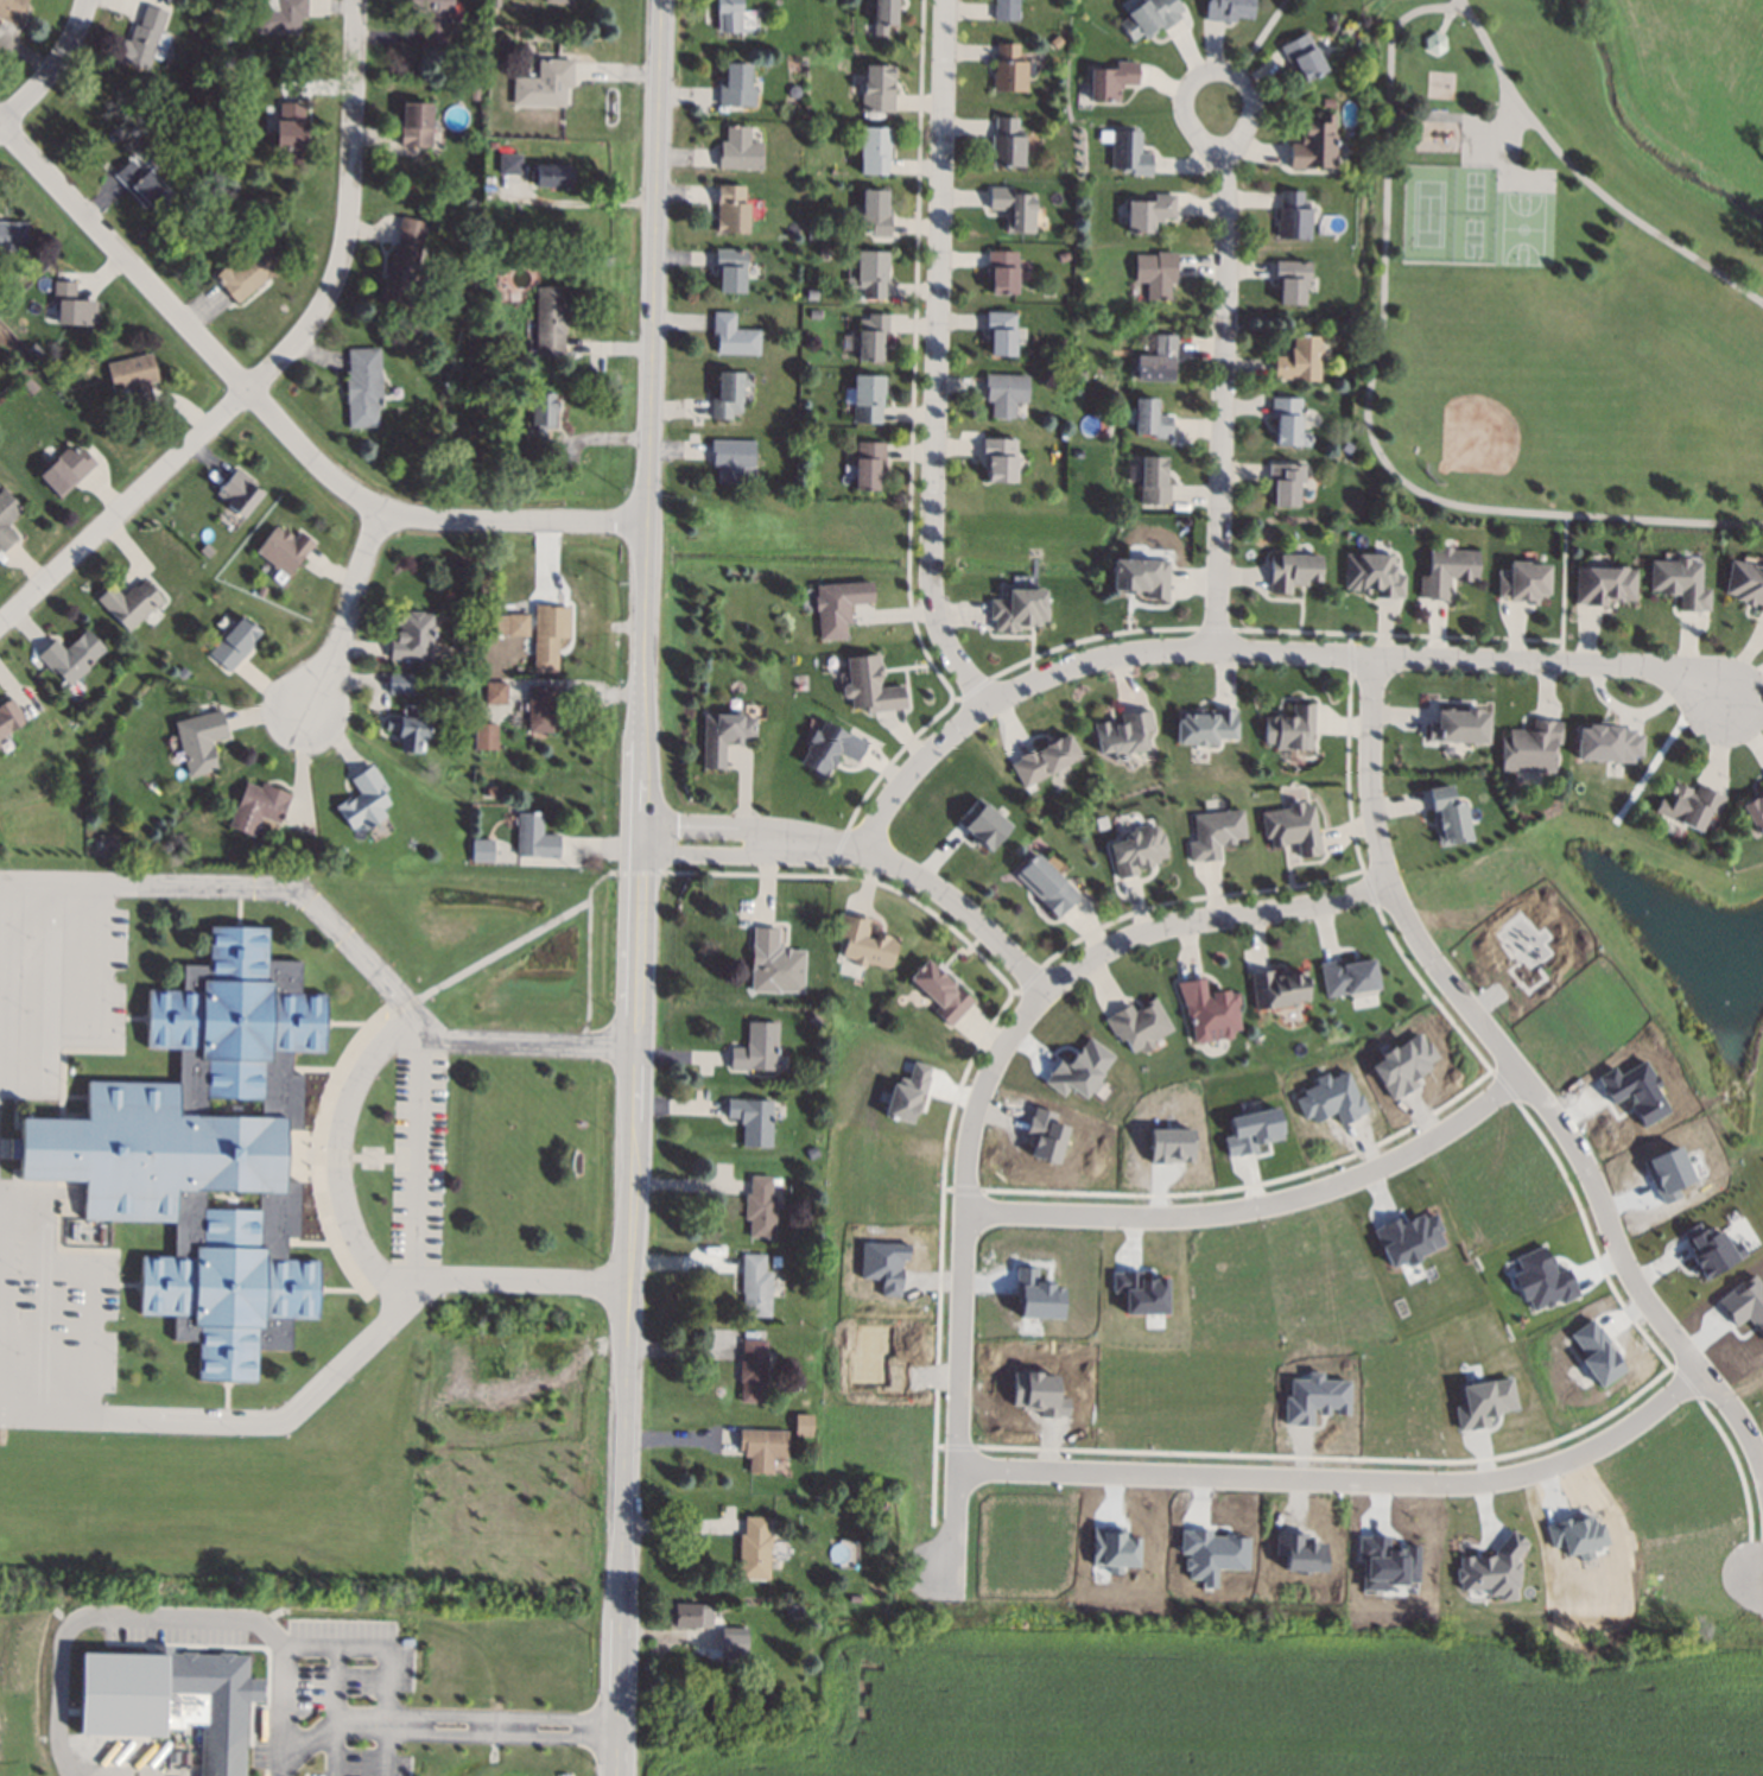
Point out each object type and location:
building: (558, 1)
road: (1461, 5)
building: (1007, 9)
building: (1228, 9)
building: (12, 11)
building: (728, 15)
building: (884, 15)
building: (281, 17)
building: (1149, 17)
building: (433, 21)
road: (1260, 37)
building: (145, 39)
building: (1057, 42)
building: (1433, 43)
building: (229, 45)
building: (1302, 57)
road: (52, 68)
building: (1010, 68)
road: (1215, 69)
building: (227, 75)
building: (1114, 80)
building: (545, 83)
building: (737, 85)
building: (879, 89)
building: (161, 91)
building: (475, 91)
building: (416, 123)
building: (134, 128)
building: (291, 132)
building: (1008, 142)
building: (493, 144)
building: (1314, 145)
building: (875, 148)
building: (740, 151)
building: (1128, 152)
building: (816, 161)
building: (510, 163)
building: (552, 176)
building: (145, 185)
road: (1384, 189)
building: (1014, 209)
building: (443, 210)
building: (731, 210)
building: (260, 211)
building: (875, 213)
building: (1149, 213)
building: (1292, 215)
park: (1450, 215)
park: (1528, 230)
building: (13, 235)
building: (811, 235)
building: (251, 268)
building: (404, 269)
building: (730, 269)
building: (873, 272)
building: (1003, 272)
building: (1156, 274)
park: (1552, 280)
building: (1290, 281)
building: (812, 294)
building: (74, 305)
building: (816, 313)
building: (550, 321)
building: (1001, 332)
building: (734, 336)
building: (871, 336)
building: (36, 354)
road: (277, 359)
road: (934, 359)
building: (1300, 360)
building: (1159, 361)
building: (486, 363)
building: (135, 381)
building: (30, 386)
building: (364, 387)
building: (1006, 393)
park: (1515, 394)
building: (728, 395)
building: (868, 398)
road: (1220, 407)
building: (541, 417)
building: (1152, 419)
road: (275, 420)
building: (1288, 421)
building: (139, 427)
building: (1347, 448)
building: (731, 459)
building: (1001, 459)
building: (869, 465)
building: (66, 470)
building: (1153, 481)
building: (1286, 483)
building: (240, 493)
building: (1146, 506)
building: (1384, 506)
building: (7, 519)
building: (284, 551)
building: (1293, 571)
building: (1446, 571)
building: (1375, 575)
building: (1141, 576)
building: (1523, 582)
building: (1680, 582)
building: (1745, 582)
building: (1604, 585)
road: (1564, 588)
road: (566, 602)
building: (131, 603)
building: (837, 605)
building: (1017, 607)
road: (345, 613)
building: (519, 624)
building: (413, 636)
building: (235, 643)
road: (1257, 651)
building: (545, 652)
building: (72, 657)
building: (401, 684)
building: (869, 685)
building: (497, 693)
building: (541, 706)
road: (1744, 712)
building: (8, 717)
building: (1205, 724)
building: (1460, 725)
building: (1293, 728)
building: (410, 732)
building: (1122, 734)
building: (486, 736)
building: (723, 736)
building: (199, 741)
building: (1607, 743)
building: (1534, 746)
building: (830, 747)
building: (1194, 757)
building: (1042, 759)
building: (490, 789)
building: (364, 801)
building: (1691, 805)
building: (259, 807)
building: (1755, 812)
building: (1450, 814)
road: (1374, 822)
building: (982, 823)
road: (754, 825)
building: (1292, 829)
building: (1215, 833)
building: (535, 836)
building: (108, 844)
building: (483, 850)
building: (1137, 850)
road: (752, 854)
building: (1047, 886)
road: (640, 887)
road: (245, 889)
road: (239, 906)
road: (962, 908)
road: (1156, 927)
building: (865, 943)
park: (1679, 946)
parking lot: (61, 962)
building: (776, 964)
road: (586, 972)
building: (1347, 977)
road: (448, 979)
road: (101, 984)
building: (1276, 989)
building: (941, 992)
road: (51, 1006)
building: (1209, 1011)
road: (135, 1017)
building: (816, 1020)
road: (350, 1023)
building: (1137, 1026)
building: (756, 1048)
building: (1401, 1064)
road: (316, 1068)
building: (1078, 1068)
building: (1634, 1091)
building: (906, 1093)
building: (1328, 1098)
building: (753, 1119)
building: (1251, 1130)
building: (1044, 1135)
building: (1169, 1144)
road: (11, 1148)
building: (208, 1152)
road: (338, 1152)
building: (813, 1153)
road: (354, 1154)
road: (419, 1156)
parking lot: (419, 1159)
building: (1667, 1173)
building: (778, 1181)
building: (761, 1207)
road: (1257, 1207)
road: (1605, 1224)
building: (1408, 1238)
road: (311, 1239)
road: (340, 1248)
building: (1710, 1250)
building: (776, 1261)
building: (1541, 1279)
road: (129, 1285)
building: (755, 1286)
building: (1140, 1293)
building: (1038, 1295)
building: (1744, 1302)
parking lot: (58, 1321)
road: (958, 1331)
building: (1596, 1352)
building: (753, 1370)
road: (226, 1398)
building: (1313, 1398)
building: (1483, 1402)
road: (239, 1419)
building: (803, 1425)
building: (762, 1447)
road: (1757, 1448)
park: (349, 1479)
road: (1340, 1484)
building: (881, 1505)
building: (1574, 1535)
building: (755, 1547)
building: (1112, 1548)
building: (1298, 1552)
building: (1210, 1554)
building: (1384, 1562)
building: (1492, 1569)
building: (857, 1598)
building: (797, 1610)
building: (685, 1615)
building: (733, 1638)
road: (328, 1644)
crop: (1225, 1705)
road: (277, 1710)
road: (332, 1710)
road: (326, 1729)
building: (220, 1748)
road: (385, 1750)

